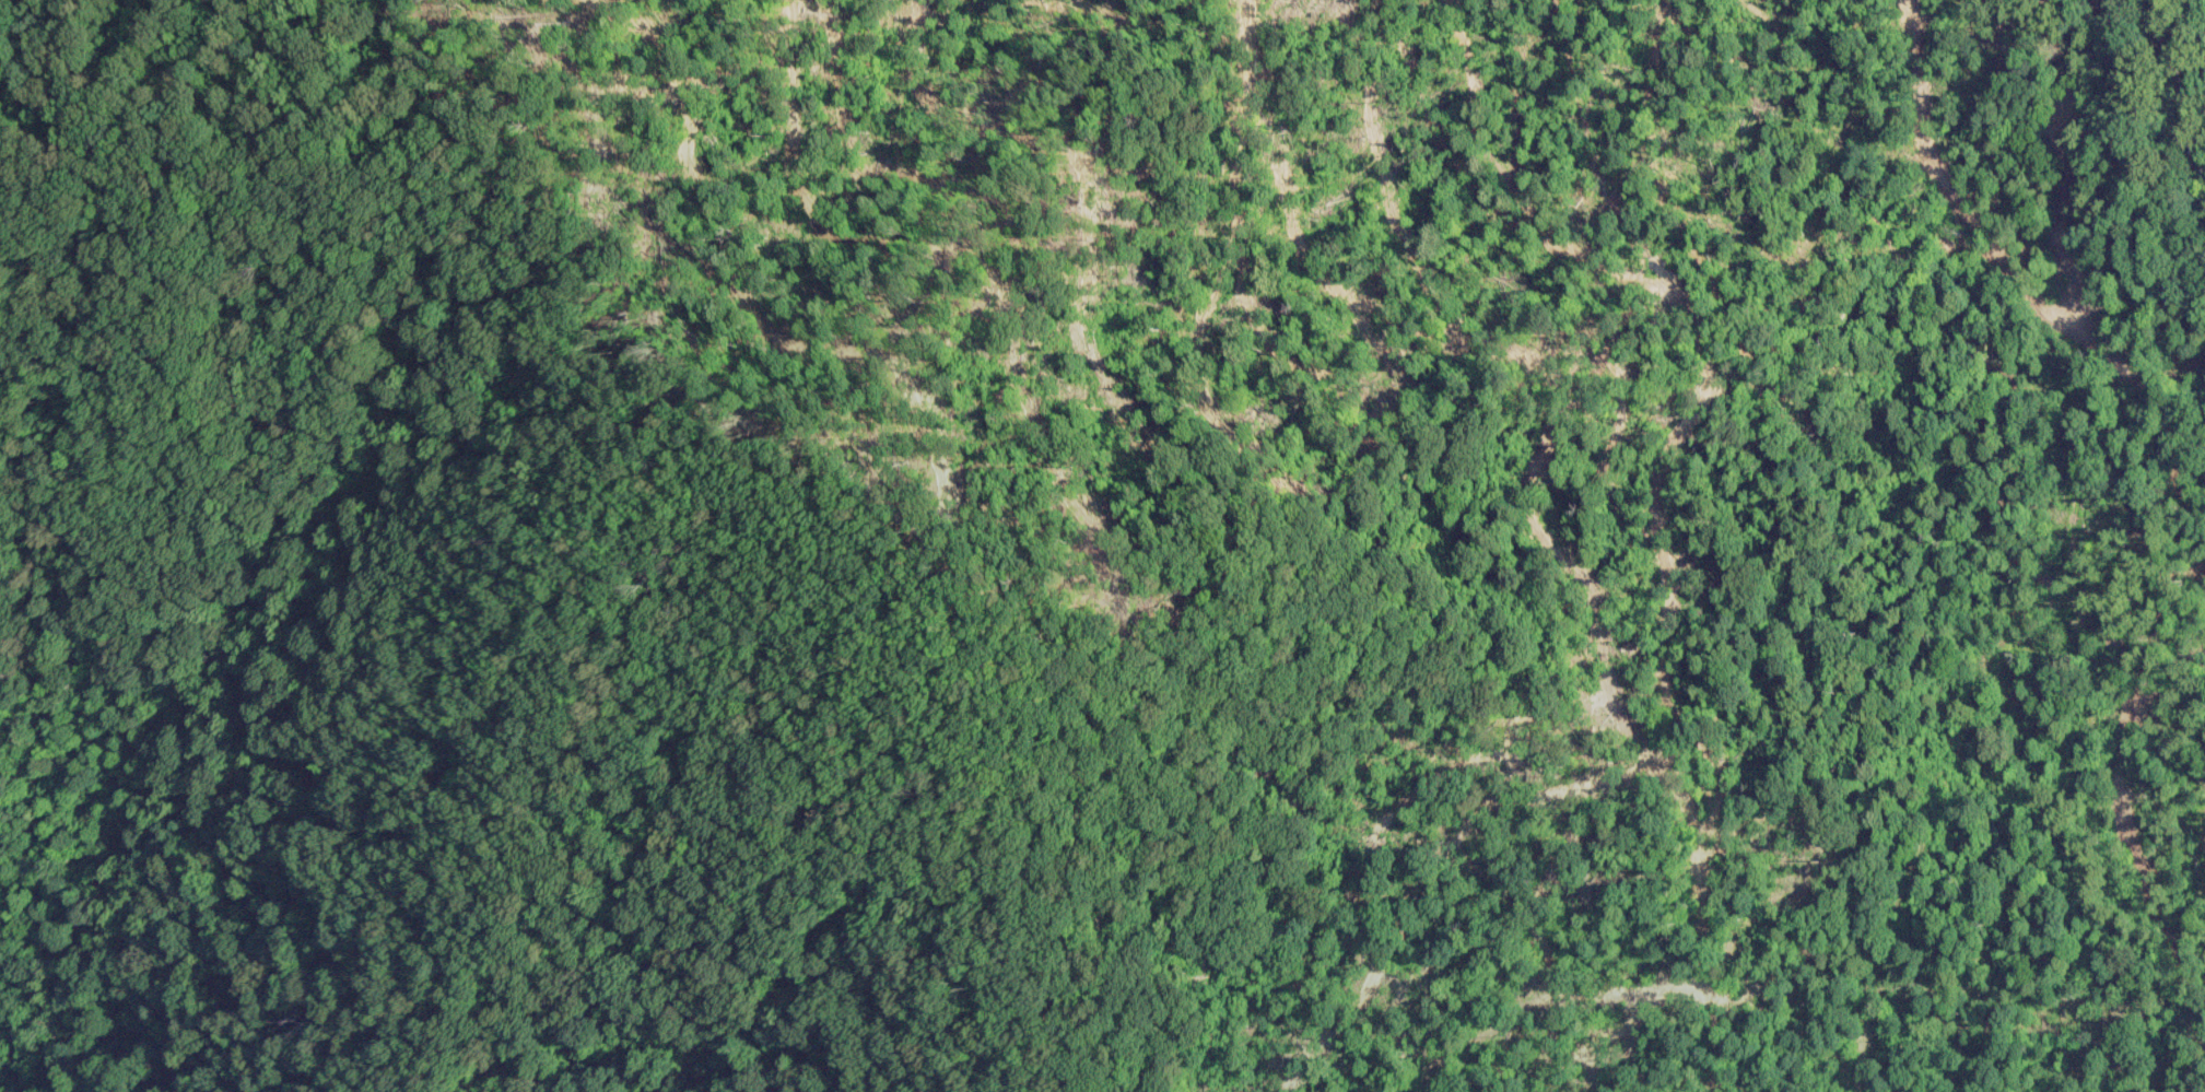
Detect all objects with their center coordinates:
road: (2126, 171)

